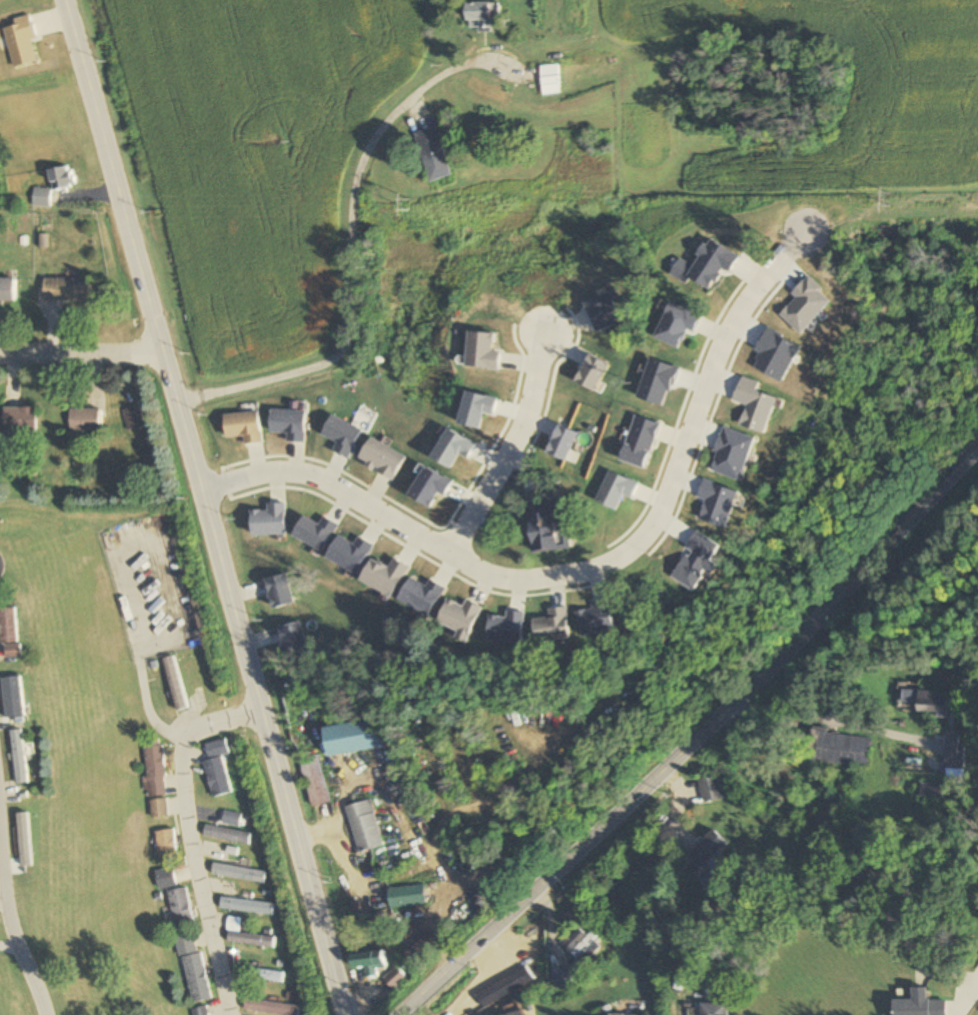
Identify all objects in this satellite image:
building: (481, 17)
building: (550, 80)
crop: (844, 88)
crop: (256, 153)
building: (432, 155)
building: (60, 178)
building: (41, 198)
power tower: (883, 199)
power tower: (404, 203)
road: (349, 240)
building: (7, 289)
building: (66, 289)
building: (569, 334)
road: (81, 353)
building: (132, 417)
building: (17, 418)
building: (85, 419)
road: (505, 453)
road: (204, 507)
building: (547, 529)
road: (584, 573)
building: (9, 630)
building: (926, 701)
road: (818, 720)
road: (698, 735)
building: (353, 736)
building: (839, 749)
building: (19, 756)
building: (152, 767)
building: (217, 767)
building: (315, 780)
building: (711, 789)
building: (156, 808)
building: (232, 818)
building: (364, 826)
road: (182, 835)
building: (227, 835)
building: (164, 846)
building: (706, 855)
building: (239, 873)
building: (163, 879)
building: (407, 897)
building: (247, 906)
building: (178, 909)
road: (15, 932)
building: (251, 939)
building: (580, 945)
building: (420, 947)
building: (368, 961)
building: (192, 968)
building: (260, 973)
building: (560, 979)
building: (919, 1005)
building: (271, 1007)
building: (714, 1009)
building: (200, 1011)
building: (516, 1013)

